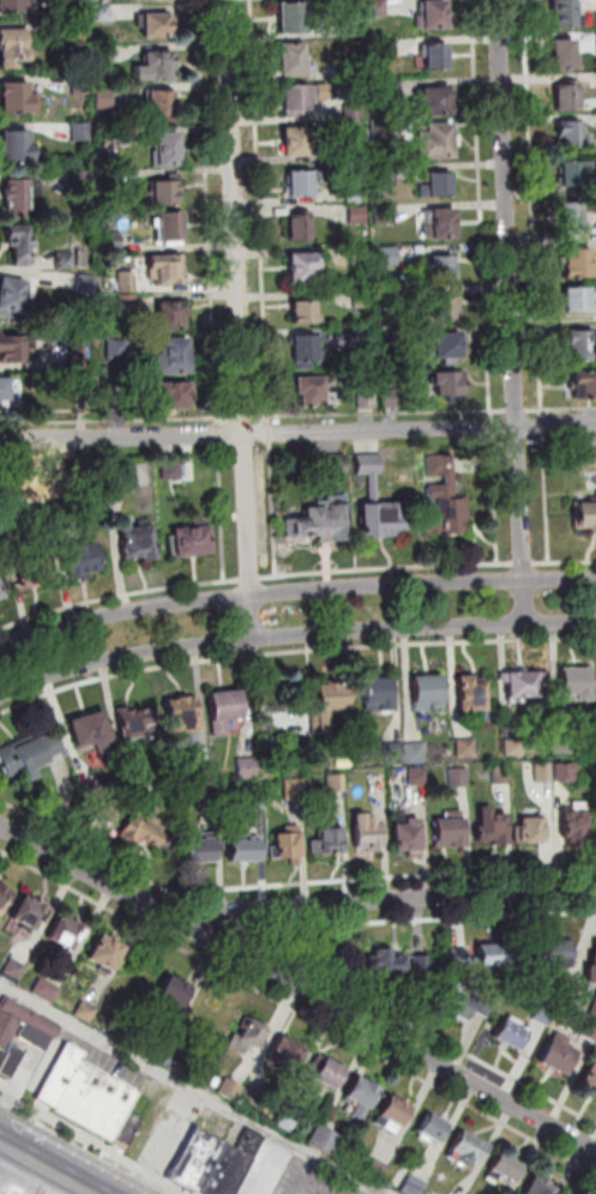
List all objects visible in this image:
building: (14, 5)
building: (378, 8)
building: (103, 12)
building: (566, 13)
building: (434, 16)
building: (293, 18)
building: (157, 25)
building: (353, 29)
building: (78, 30)
building: (14, 47)
building: (387, 47)
building: (106, 54)
building: (565, 55)
building: (438, 58)
building: (293, 59)
building: (156, 67)
building: (355, 68)
building: (80, 84)
building: (379, 90)
building: (570, 96)
building: (17, 97)
building: (104, 97)
building: (303, 97)
building: (163, 102)
building: (433, 102)
building: (355, 111)
building: (83, 131)
building: (384, 131)
building: (572, 133)
building: (108, 139)
building: (299, 141)
building: (438, 141)
building: (18, 147)
building: (169, 149)
building: (386, 173)
building: (576, 174)
building: (301, 183)
building: (439, 186)
building: (163, 193)
building: (359, 193)
building: (23, 194)
road: (535, 207)
road: (211, 212)
building: (386, 213)
building: (359, 216)
building: (574, 218)
building: (444, 224)
building: (171, 225)
building: (301, 228)
building: (113, 240)
building: (20, 242)
building: (361, 257)
building: (390, 257)
building: (66, 259)
building: (83, 259)
building: (580, 265)
building: (168, 269)
building: (306, 269)
building: (443, 269)
building: (128, 282)
building: (90, 284)
building: (11, 296)
building: (391, 297)
building: (362, 298)
building: (580, 300)
building: (128, 303)
building: (444, 312)
road: (514, 312)
building: (306, 313)
building: (171, 315)
road: (242, 319)
building: (391, 339)
building: (362, 343)
building: (450, 345)
building: (582, 346)
building: (11, 349)
building: (118, 350)
building: (307, 351)
building: (175, 357)
building: (79, 358)
building: (89, 381)
building: (451, 386)
building: (585, 386)
building: (5, 390)
building: (313, 391)
building: (175, 394)
building: (393, 398)
building: (368, 399)
building: (121, 400)
road: (562, 409)
road: (518, 410)
road: (500, 411)
road: (378, 414)
road: (493, 415)
road: (246, 417)
road: (263, 417)
road: (118, 420)
road: (270, 421)
road: (544, 424)
road: (494, 427)
road: (270, 433)
road: (297, 433)
road: (221, 434)
building: (589, 458)
building: (371, 464)
building: (332, 465)
building: (173, 470)
building: (116, 478)
building: (441, 478)
building: (65, 511)
road: (223, 512)
building: (585, 514)
building: (447, 518)
building: (383, 520)
building: (10, 523)
road: (546, 523)
building: (321, 525)
building: (194, 542)
building: (140, 543)
building: (82, 560)
road: (386, 568)
building: (32, 575)
road: (137, 590)
road: (294, 592)
building: (0, 597)
building: (0, 599)
road: (294, 634)
road: (293, 647)
building: (576, 685)
building: (522, 686)
building: (429, 694)
building: (472, 695)
building: (379, 696)
building: (331, 705)
building: (225, 711)
building: (182, 718)
building: (133, 723)
building: (92, 734)
building: (562, 743)
building: (468, 748)
building: (514, 748)
building: (416, 753)
building: (395, 754)
building: (28, 758)
building: (248, 768)
building: (567, 772)
building: (544, 773)
building: (502, 776)
building: (204, 777)
building: (420, 778)
building: (459, 778)
building: (337, 784)
building: (133, 788)
building: (295, 789)
building: (94, 791)
building: (255, 798)
building: (213, 800)
building: (112, 815)
building: (326, 826)
building: (574, 827)
building: (144, 830)
building: (493, 830)
building: (531, 832)
building: (451, 834)
street lamp: (40, 836)
building: (369, 836)
building: (409, 838)
building: (330, 842)
road: (85, 846)
building: (203, 848)
building: (289, 848)
building: (243, 849)
road: (383, 878)
building: (5, 899)
road: (379, 900)
road: (206, 911)
building: (30, 913)
building: (65, 935)
road: (264, 942)
building: (492, 953)
building: (554, 953)
building: (107, 954)
building: (453, 954)
building: (385, 955)
building: (590, 965)
building: (14, 969)
building: (423, 970)
road: (297, 989)
building: (47, 990)
building: (175, 996)
building: (464, 1001)
building: (592, 1003)
road: (297, 1009)
building: (88, 1012)
building: (588, 1030)
building: (507, 1032)
building: (22, 1033)
building: (255, 1036)
building: (159, 1051)
building: (555, 1053)
building: (287, 1055)
building: (59, 1072)
building: (589, 1074)
building: (331, 1075)
road: (192, 1089)
building: (231, 1091)
building: (363, 1094)
building: (97, 1100)
building: (249, 1102)
building: (396, 1112)
building: (287, 1122)
building: (435, 1130)
building: (325, 1141)
road: (91, 1142)
building: (470, 1152)
building: (192, 1157)
road: (47, 1168)
building: (223, 1170)
building: (507, 1170)
building: (379, 1171)
parking lot: (299, 1174)
building: (415, 1186)
road: (8, 1187)
building: (540, 1188)
parking lot: (374, 1190)
road: (17, 1193)
road: (19, 1193)

